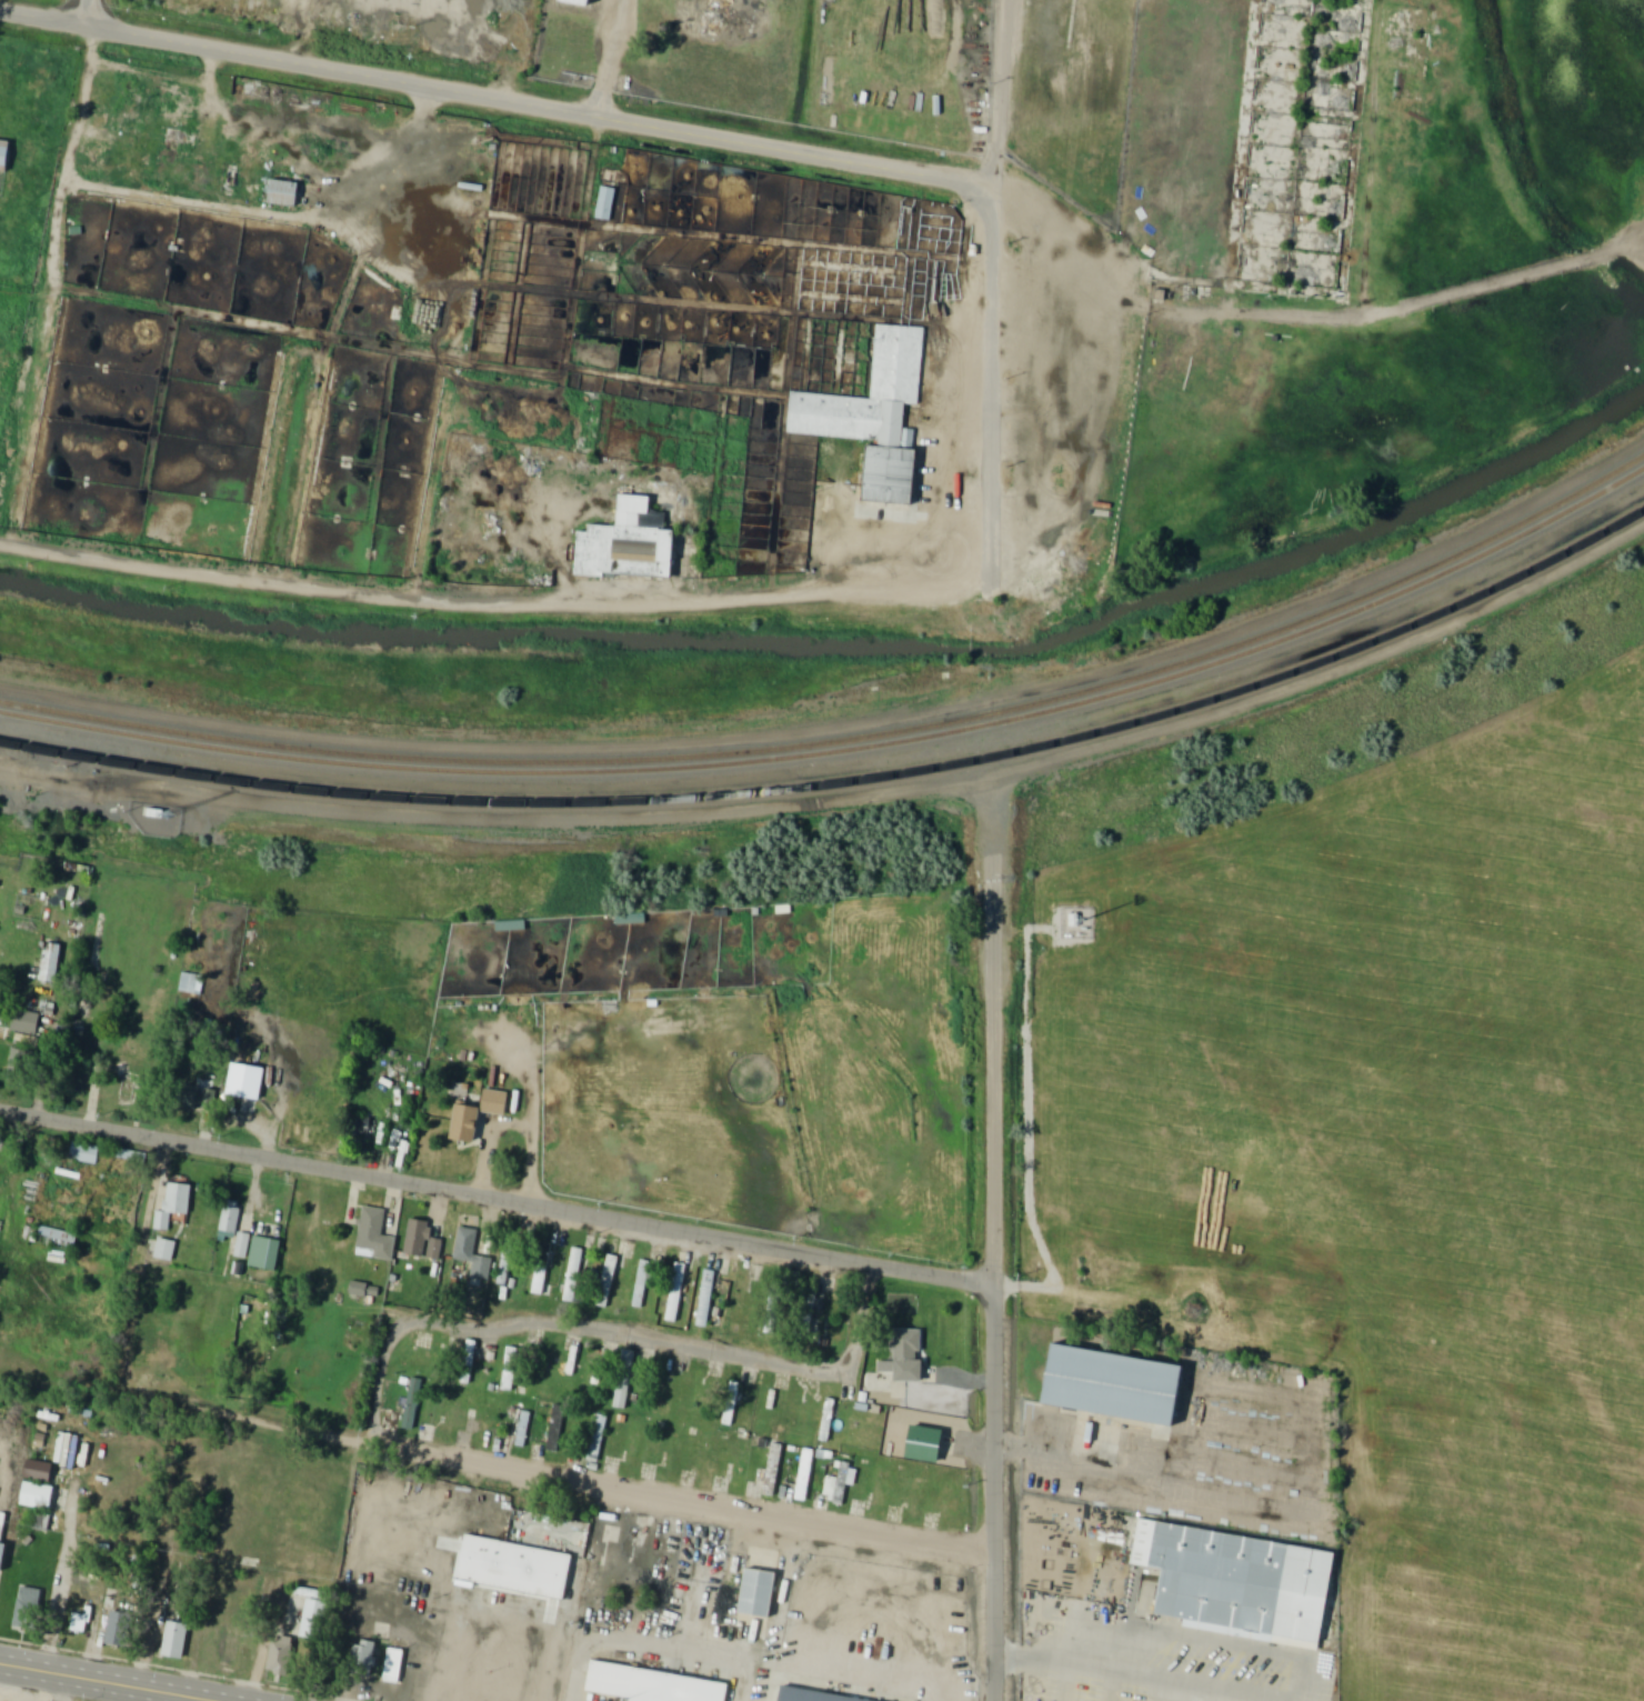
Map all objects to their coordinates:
road: (86, 11)
road: (42, 16)
road: (310, 31)
building: (1355, 40)
road: (520, 50)
road: (610, 58)
road: (1001, 102)
building: (126, 104)
road: (531, 104)
building: (183, 113)
building: (173, 146)
building: (4, 153)
building: (287, 194)
building: (607, 204)
building: (898, 359)
road: (990, 386)
building: (891, 477)
building: (631, 544)
road: (494, 600)
road: (1329, 672)
railway: (846, 742)
railway: (845, 753)
railway: (844, 783)
building: (512, 927)
building: (52, 963)
building: (190, 984)
building: (28, 1023)
building: (20, 1067)
building: (480, 1115)
building: (86, 1154)
road: (498, 1198)
building: (176, 1205)
building: (230, 1224)
building: (375, 1237)
road: (998, 1239)
building: (59, 1241)
building: (423, 1241)
building: (243, 1245)
building: (167, 1250)
building: (265, 1252)
building: (472, 1255)
building: (508, 1262)
building: (239, 1269)
building: (544, 1274)
building: (574, 1274)
building: (609, 1283)
building: (642, 1285)
building: (365, 1290)
building: (678, 1294)
building: (708, 1300)
building: (773, 1319)
road: (621, 1329)
building: (473, 1350)
building: (911, 1357)
building: (591, 1369)
building: (548, 1373)
building: (1111, 1384)
building: (413, 1404)
building: (732, 1404)
building: (796, 1413)
building: (450, 1415)
building: (828, 1420)
building: (557, 1429)
building: (523, 1430)
building: (598, 1439)
building: (632, 1444)
building: (926, 1444)
building: (674, 1450)
building: (740, 1467)
building: (774, 1471)
building: (805, 1474)
road: (574, 1478)
building: (841, 1484)
building: (881, 1488)
building: (918, 1494)
building: (46, 1498)
building: (956, 1500)
building: (1, 1550)
building: (514, 1564)
building: (1234, 1579)
building: (758, 1592)
building: (30, 1609)
road: (54, 1615)
building: (315, 1620)
road: (1139, 1628)
building: (121, 1630)
building: (178, 1641)
building: (231, 1647)
building: (363, 1654)
building: (278, 1655)
road: (1059, 1662)
building: (395, 1668)
road: (101, 1683)
building: (650, 1684)
building: (810, 1695)

